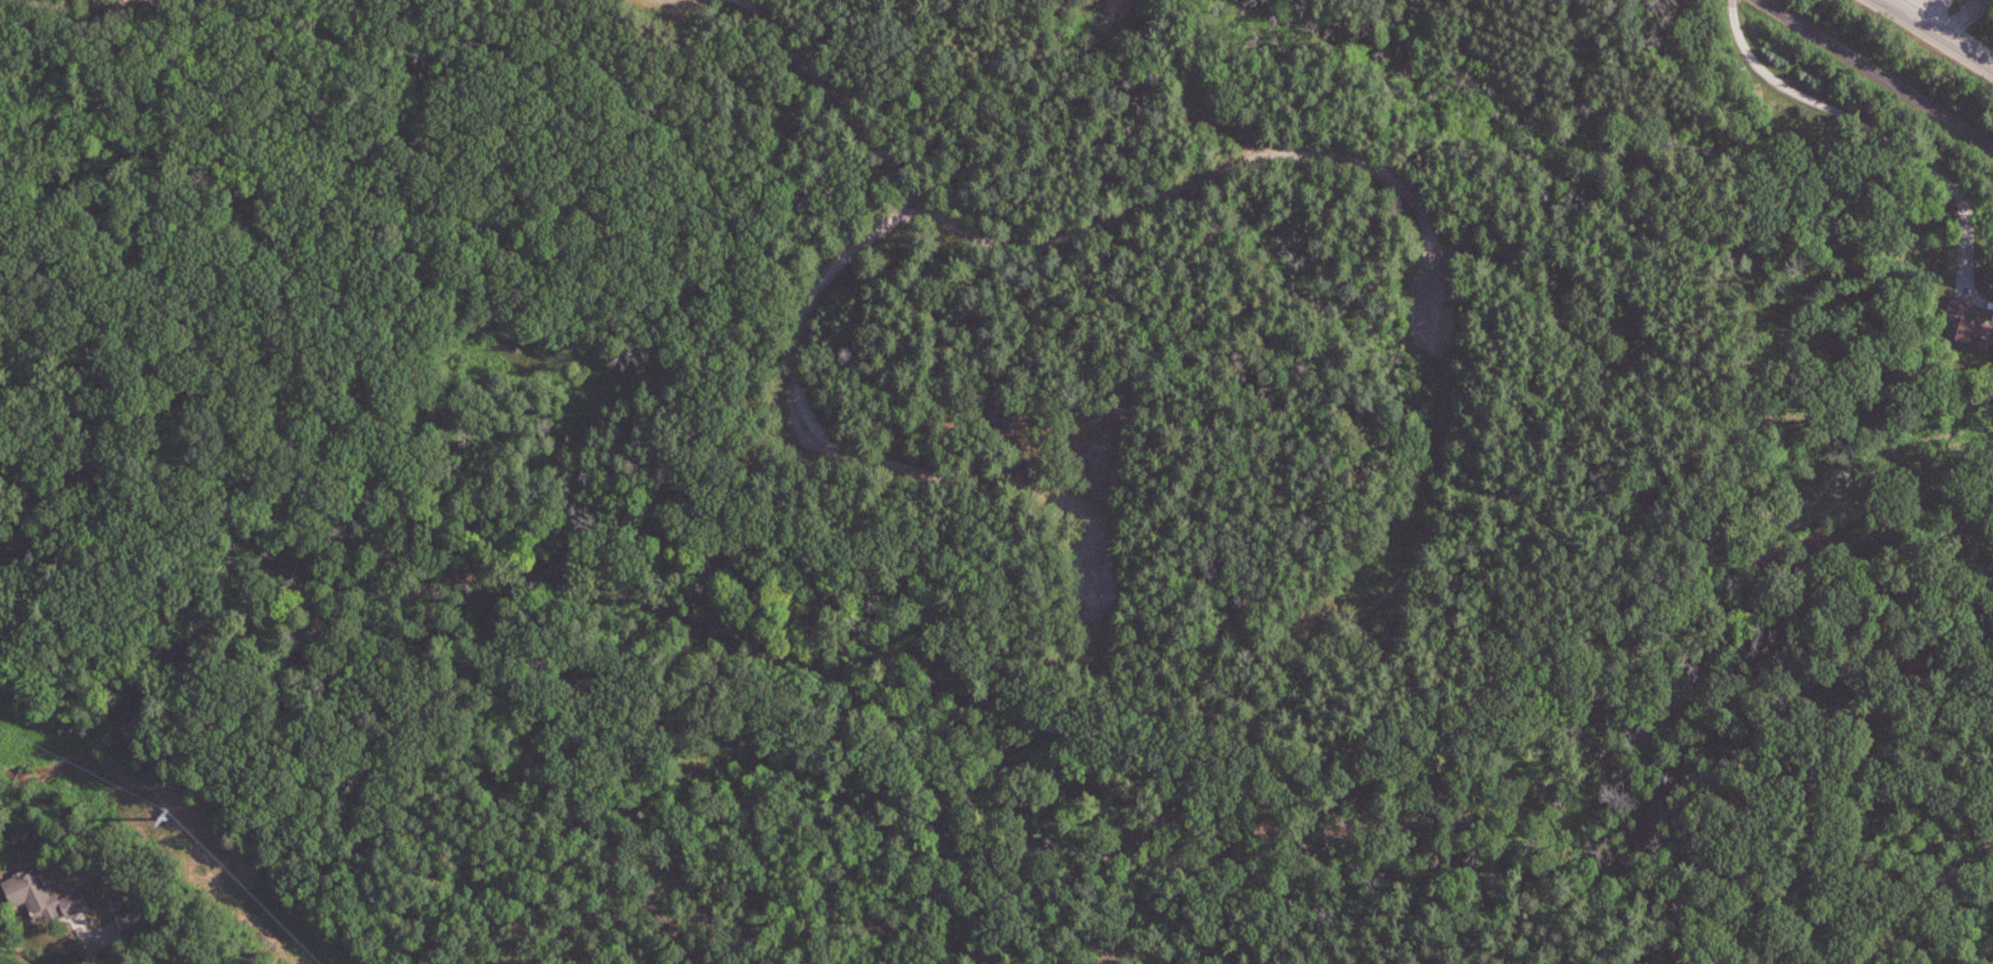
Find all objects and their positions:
road: (1939, 32)
road: (1877, 73)
road: (1830, 108)
road: (1978, 200)
road: (1117, 220)
road: (1963, 257)
building: (1959, 304)
parking lot: (1432, 312)
building: (1979, 334)
building: (998, 419)
park: (931, 437)
road: (871, 463)
parking lot: (1100, 584)
power tower: (166, 814)
building: (40, 897)
road: (1919, 897)

